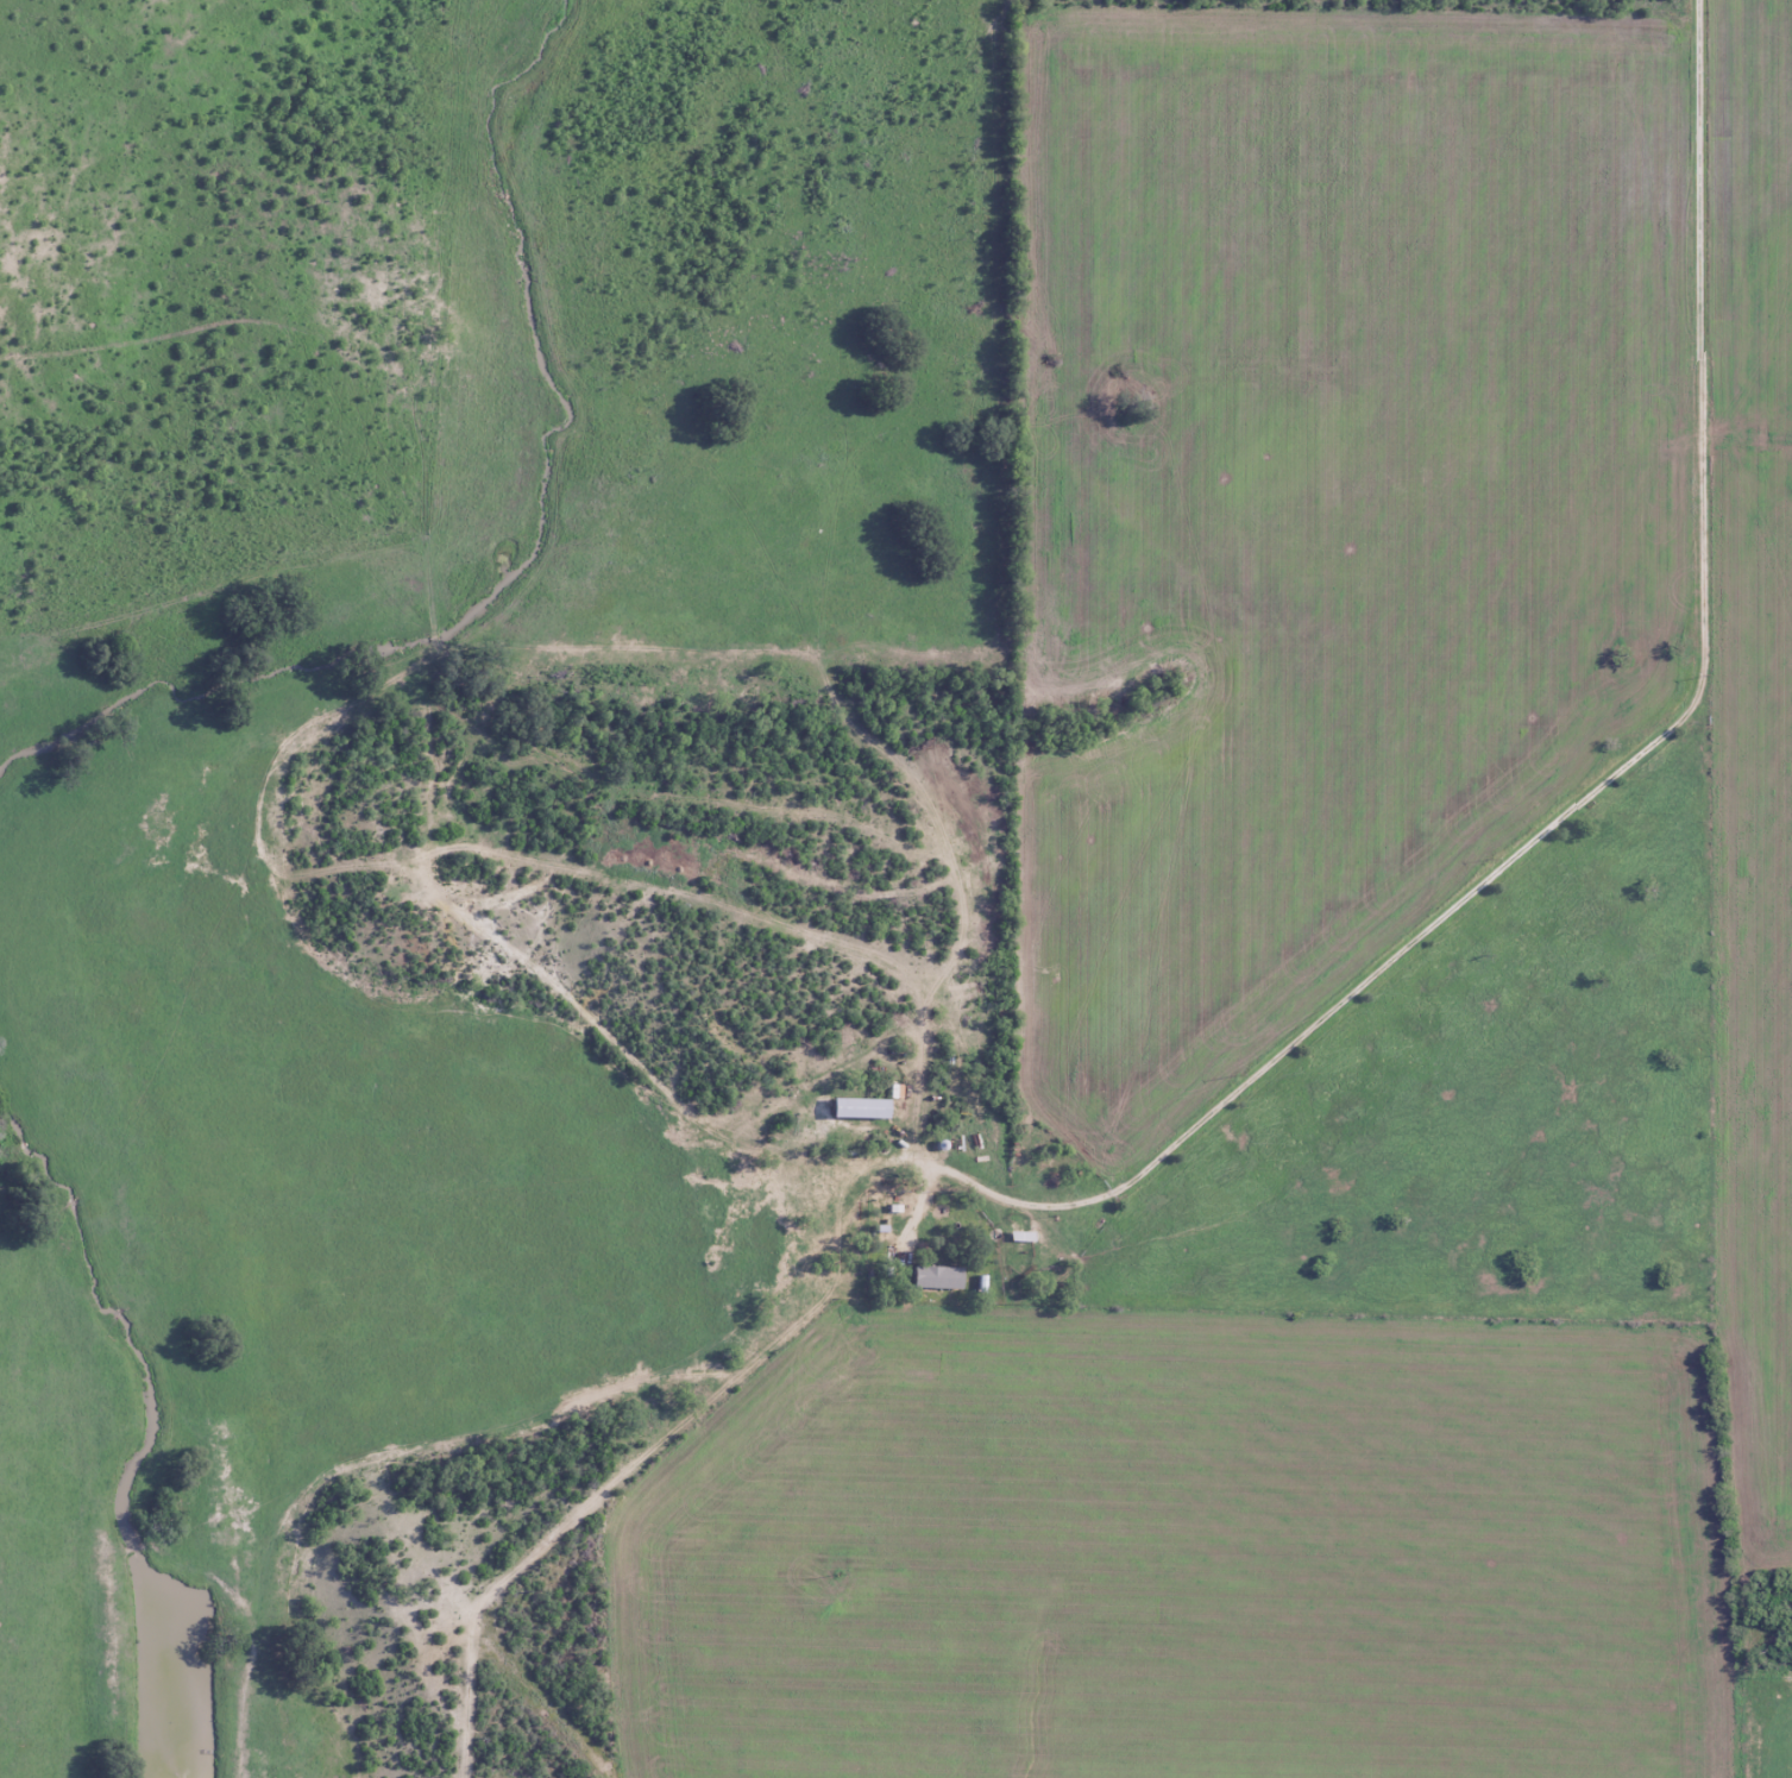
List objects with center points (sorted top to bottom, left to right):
road: (1586, 803)
building: (863, 1108)
building: (939, 1278)

